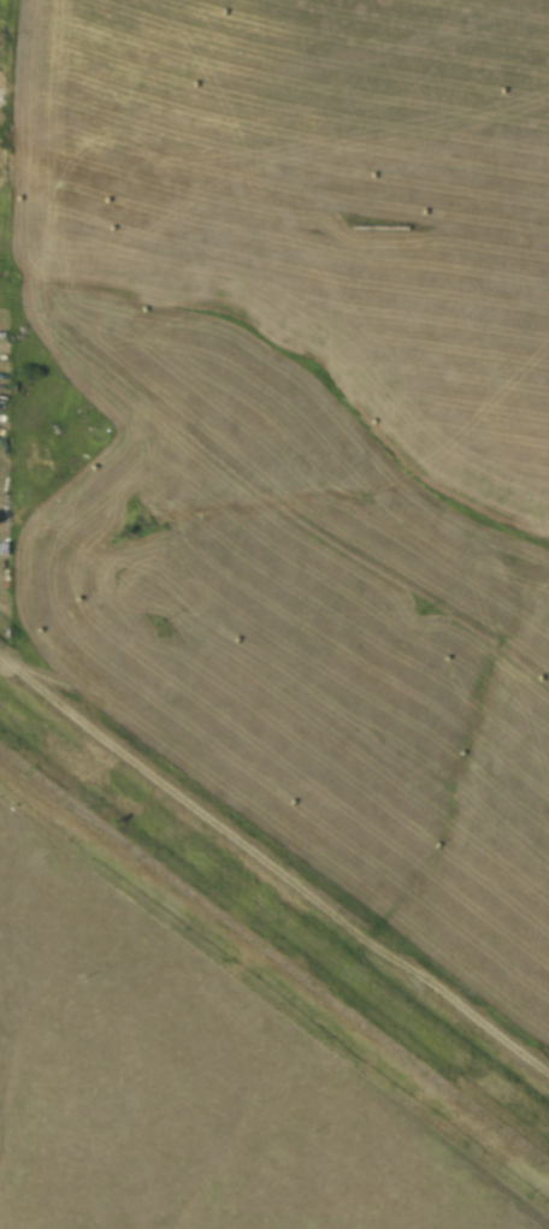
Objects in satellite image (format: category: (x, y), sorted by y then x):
railway: (51, 793)
railway: (49, 828)
road: (273, 884)
railway: (325, 1003)

